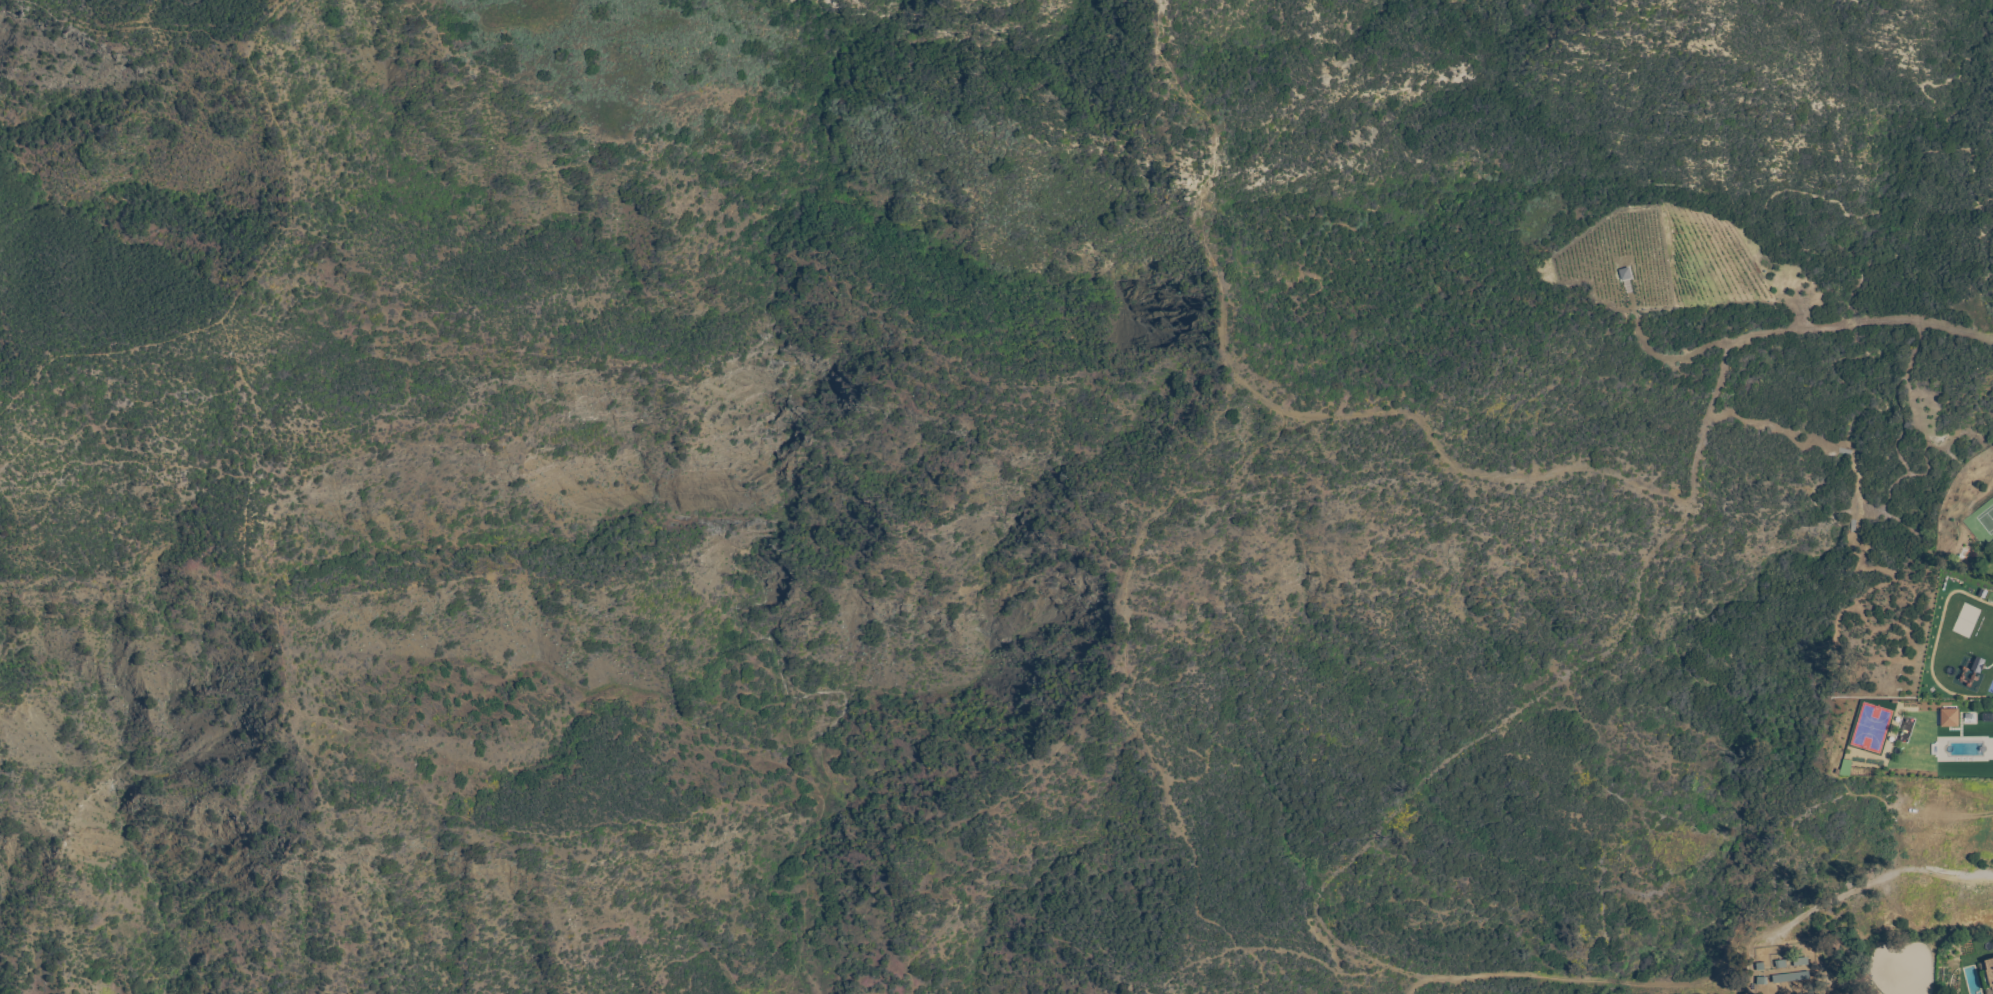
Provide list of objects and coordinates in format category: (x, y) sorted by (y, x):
building: (1948, 718)
road: (1878, 879)
building: (1799, 962)
building: (1988, 974)
building: (1792, 978)

